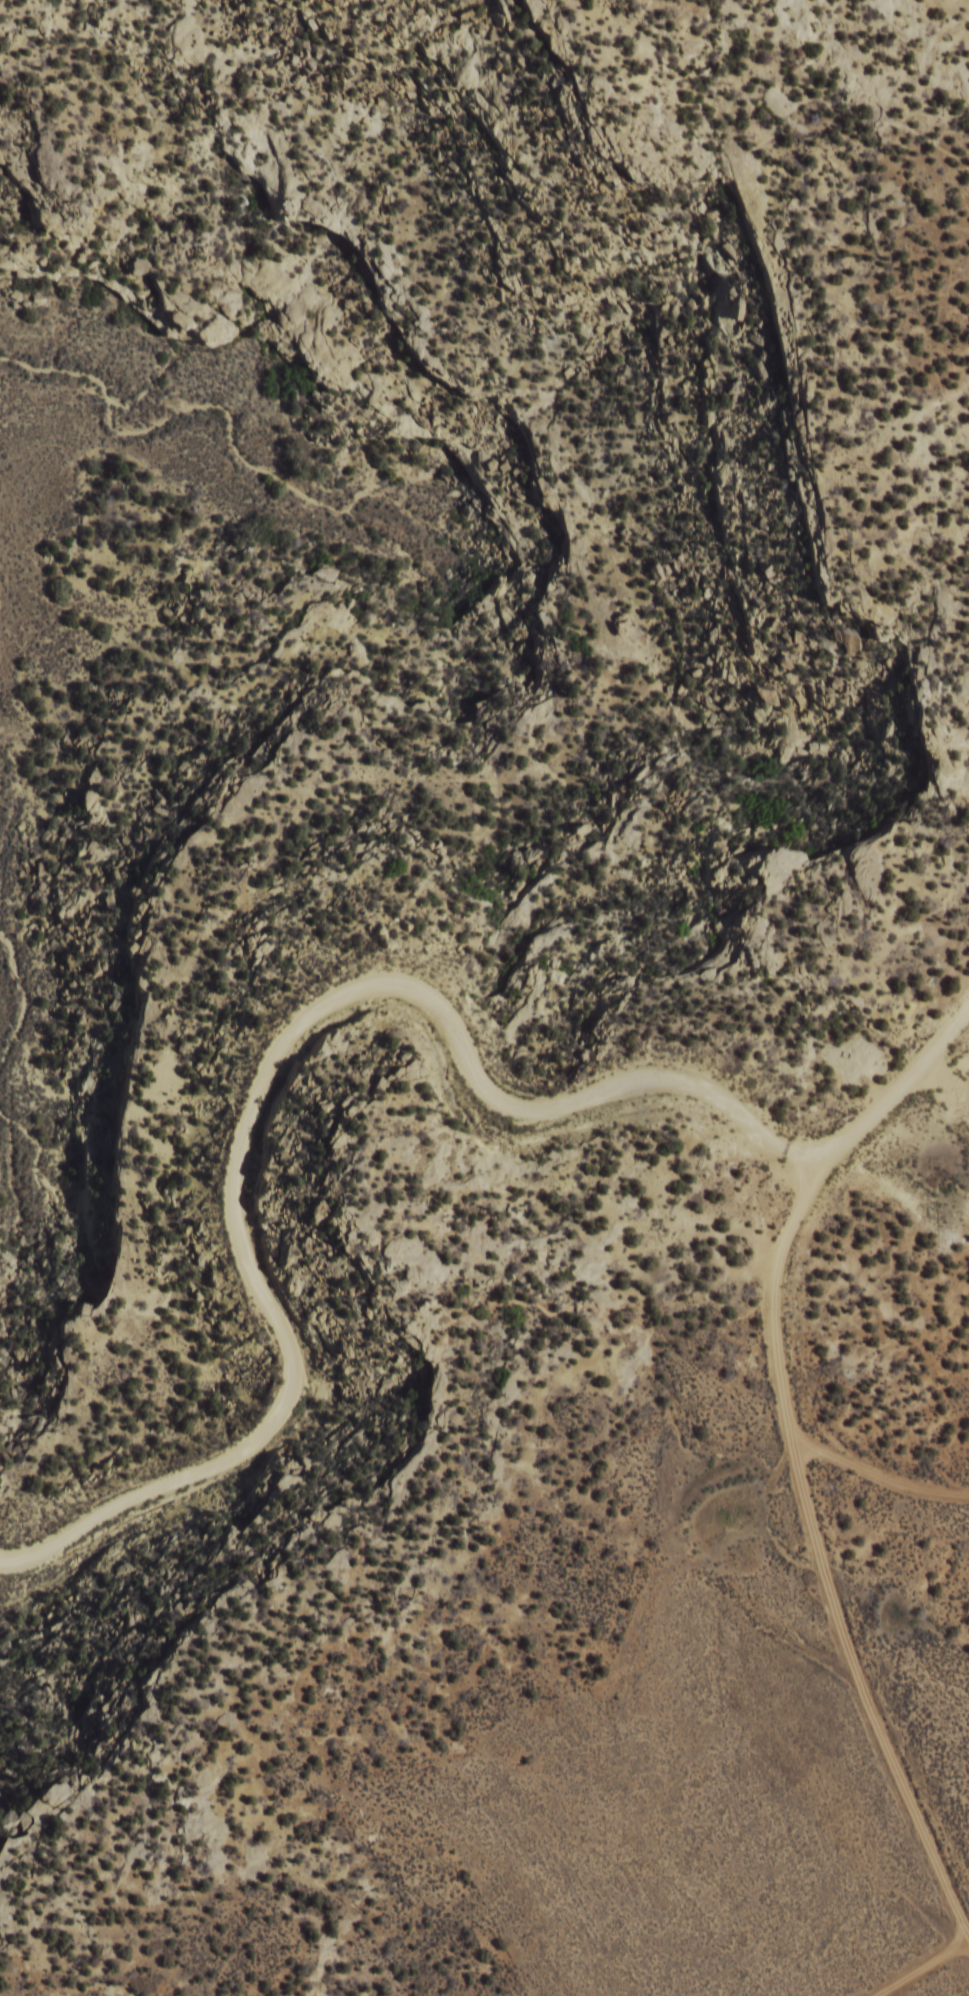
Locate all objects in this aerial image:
road: (346, 1024)
road: (884, 1496)
road: (825, 1596)
building: (48, 1799)
road: (945, 1988)

